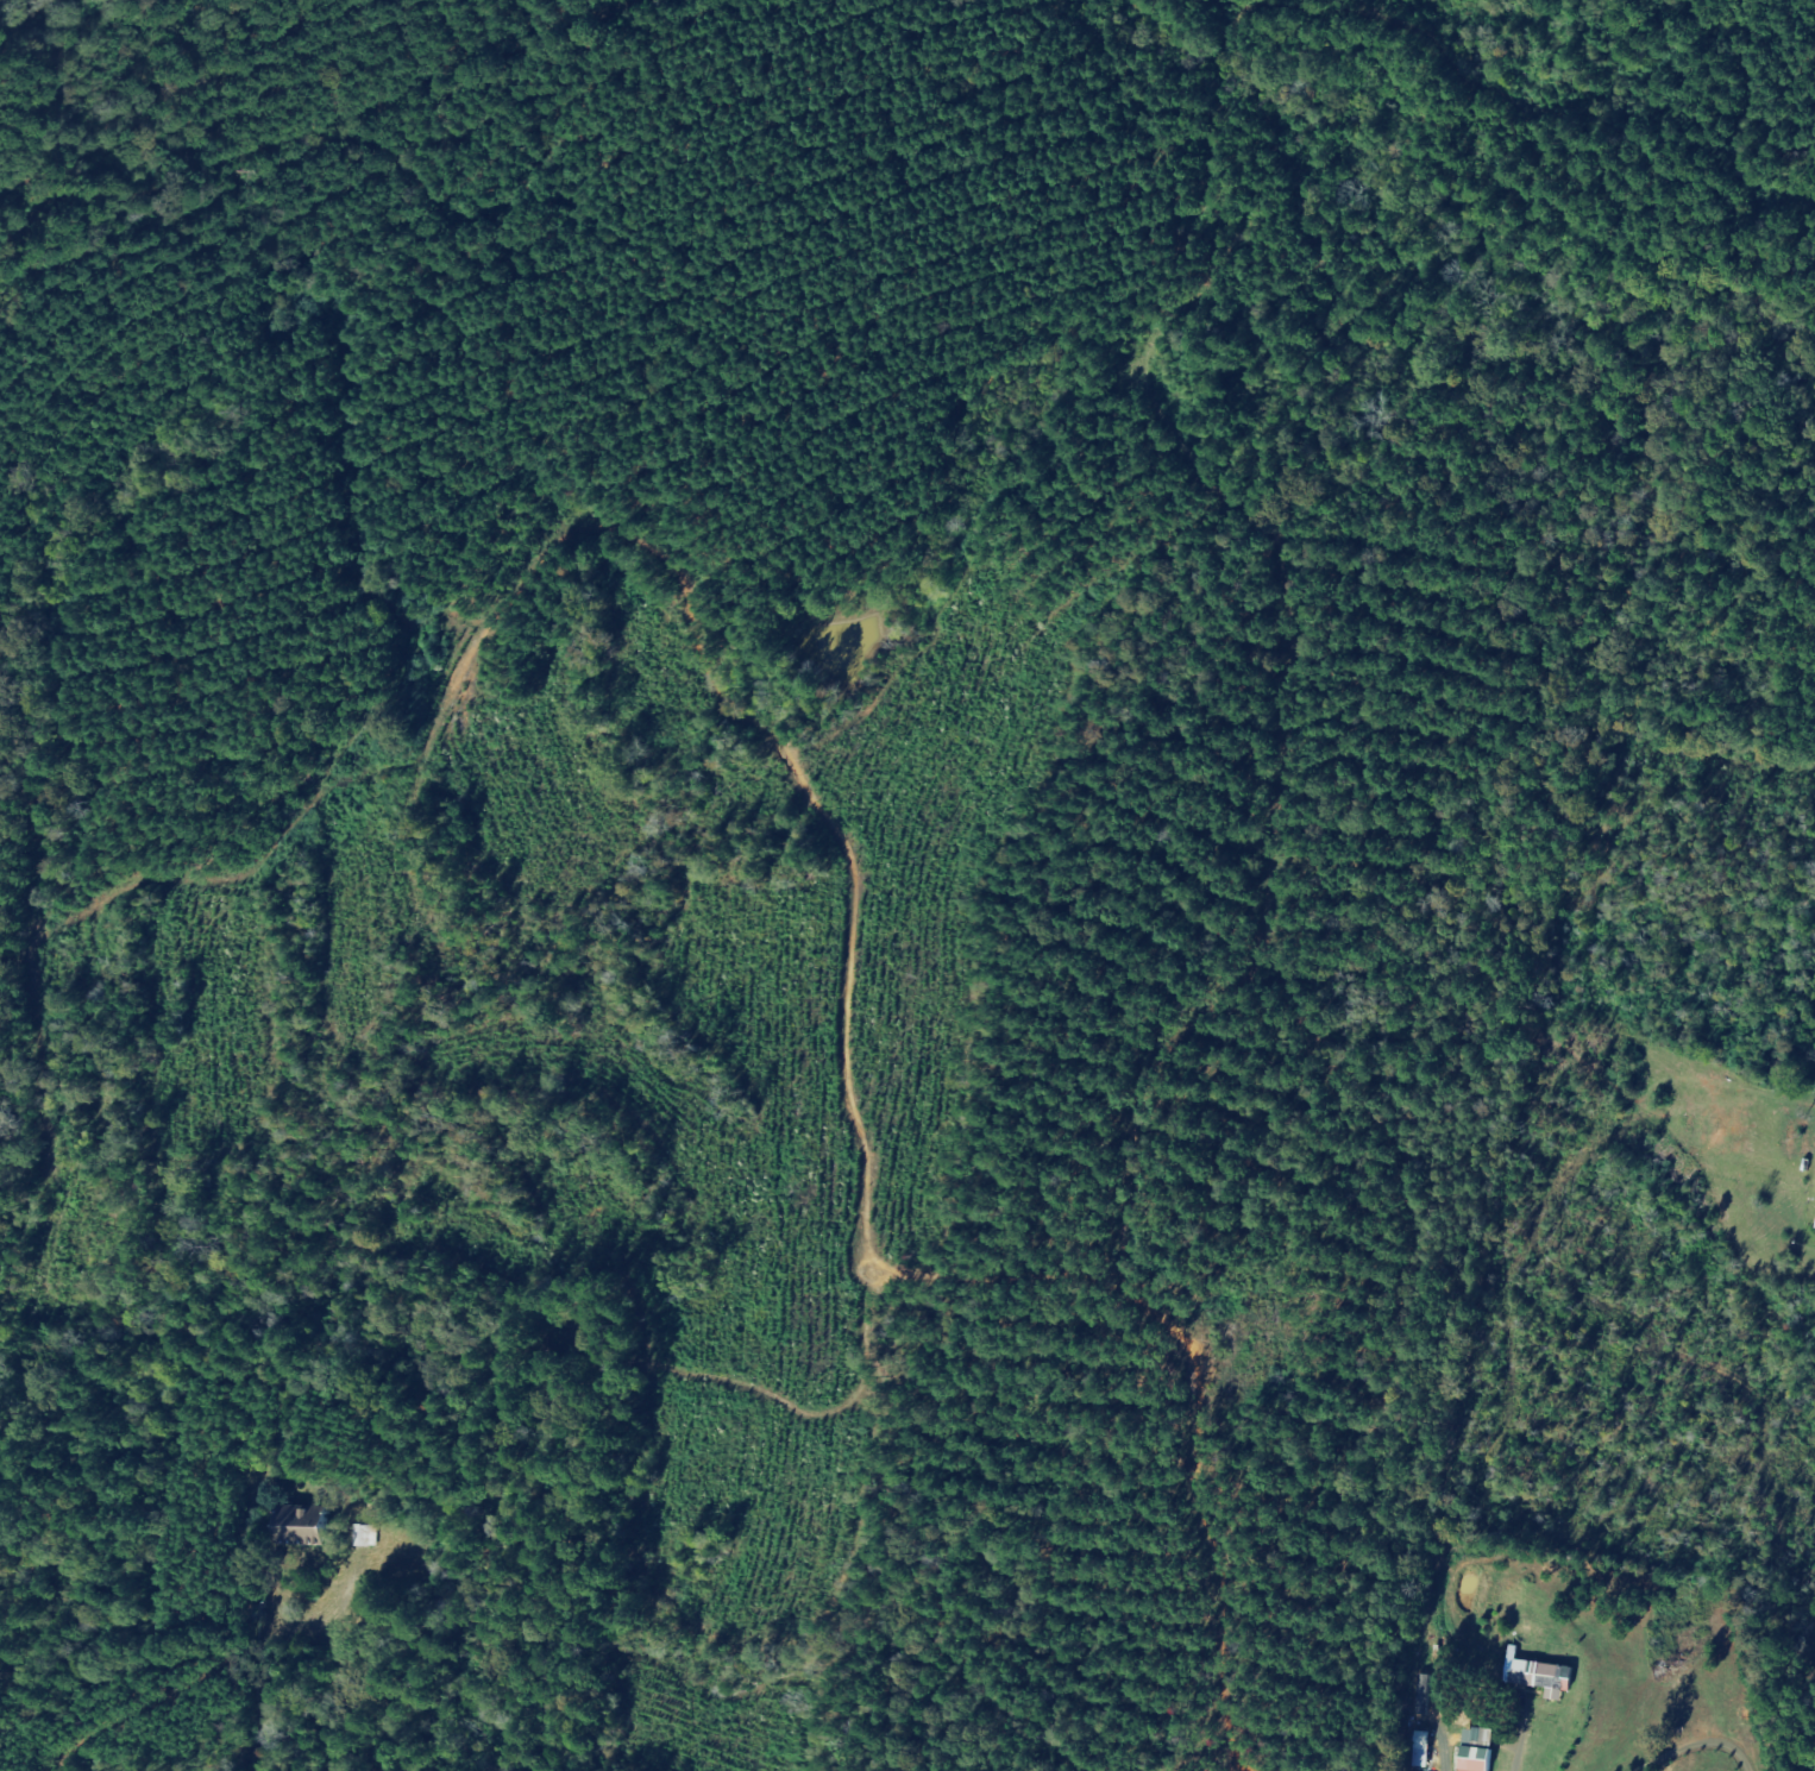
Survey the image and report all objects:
building: (307, 1527)
building: (366, 1537)
building: (1546, 1676)
road: (318, 1688)
building: (1483, 1750)
building: (1425, 1752)

